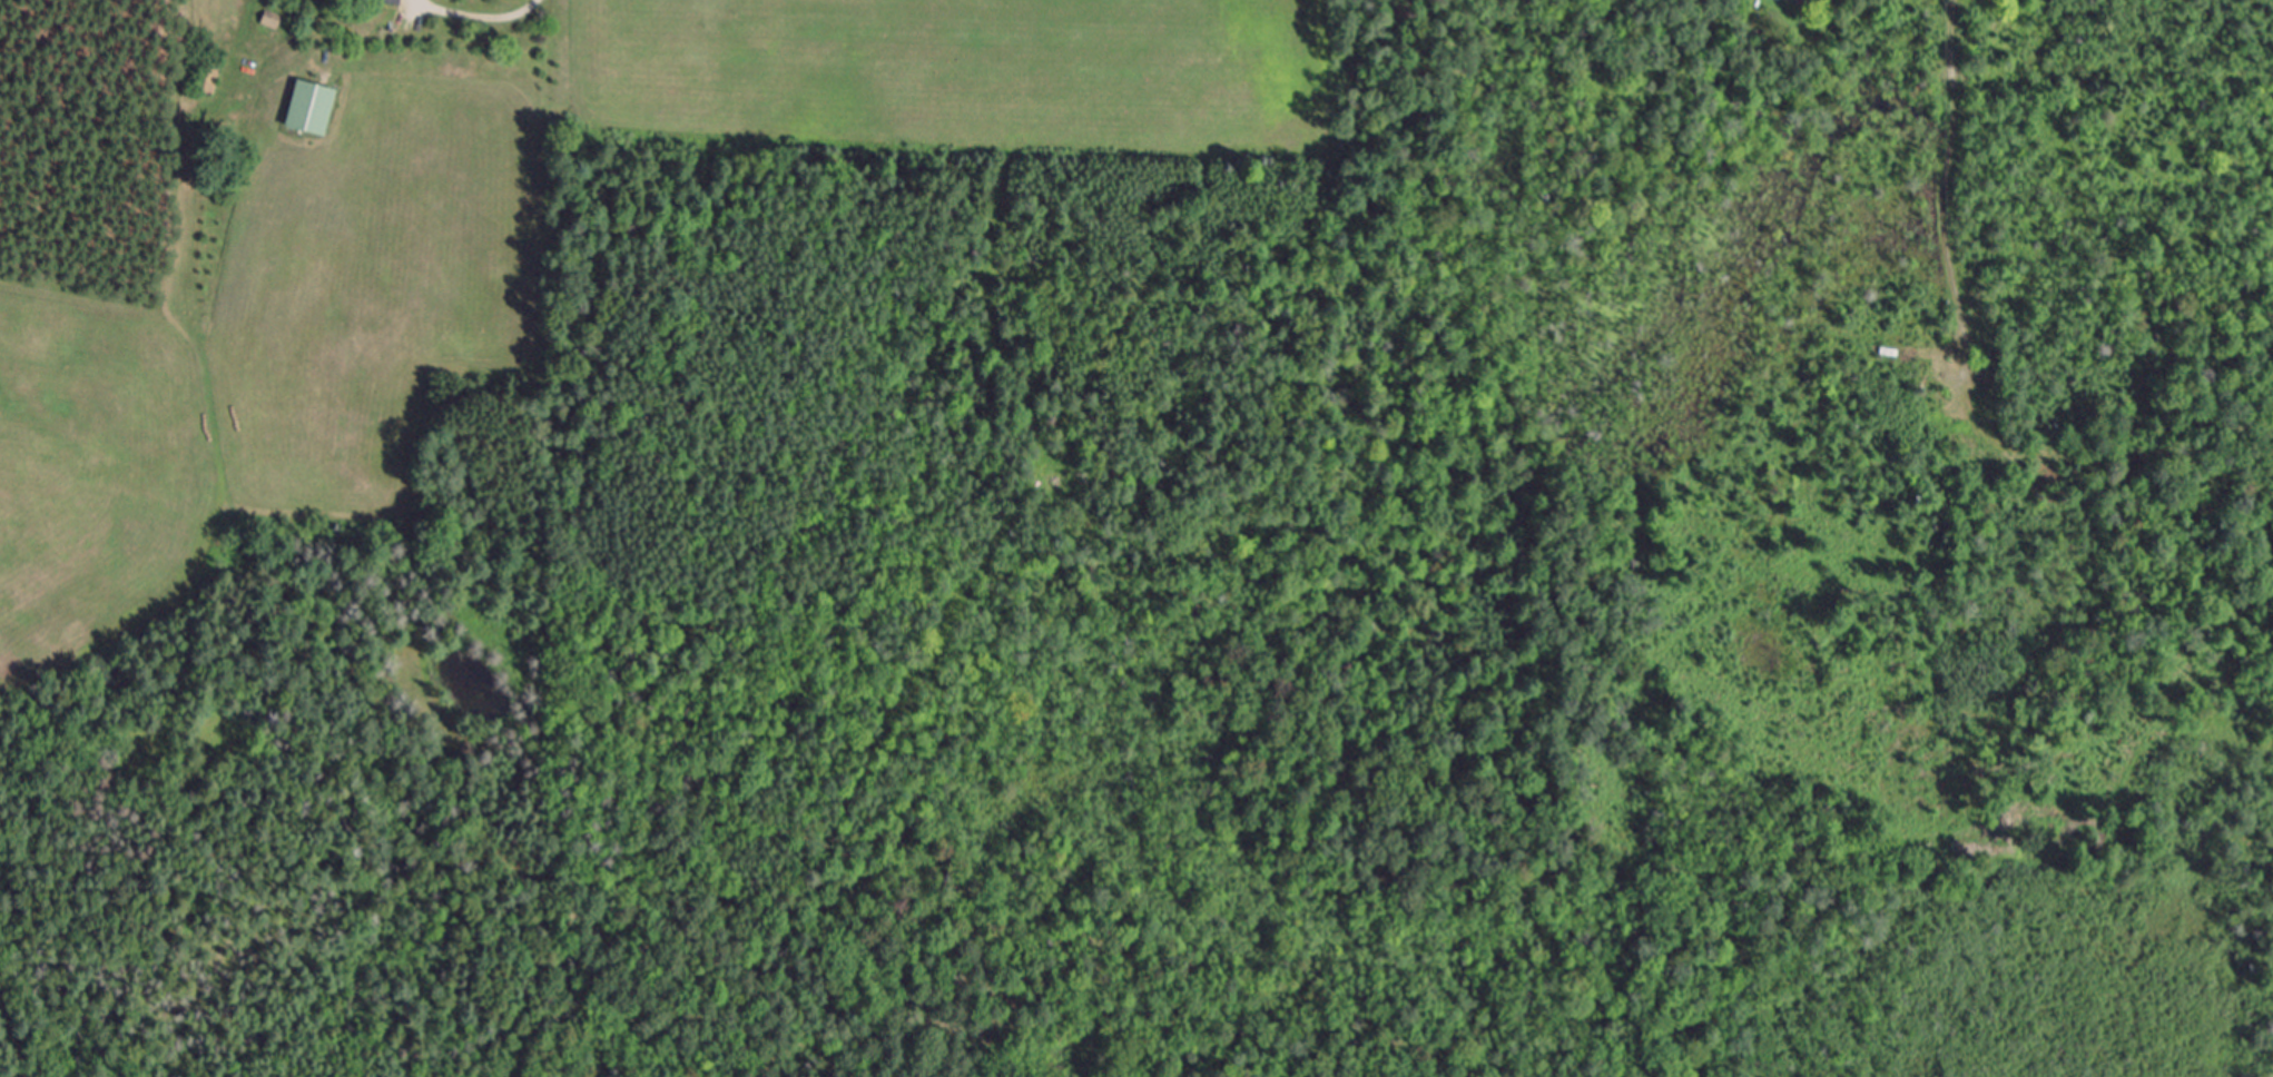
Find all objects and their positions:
road: (480, 17)
building: (311, 105)
road: (1948, 167)
building: (1928, 397)

